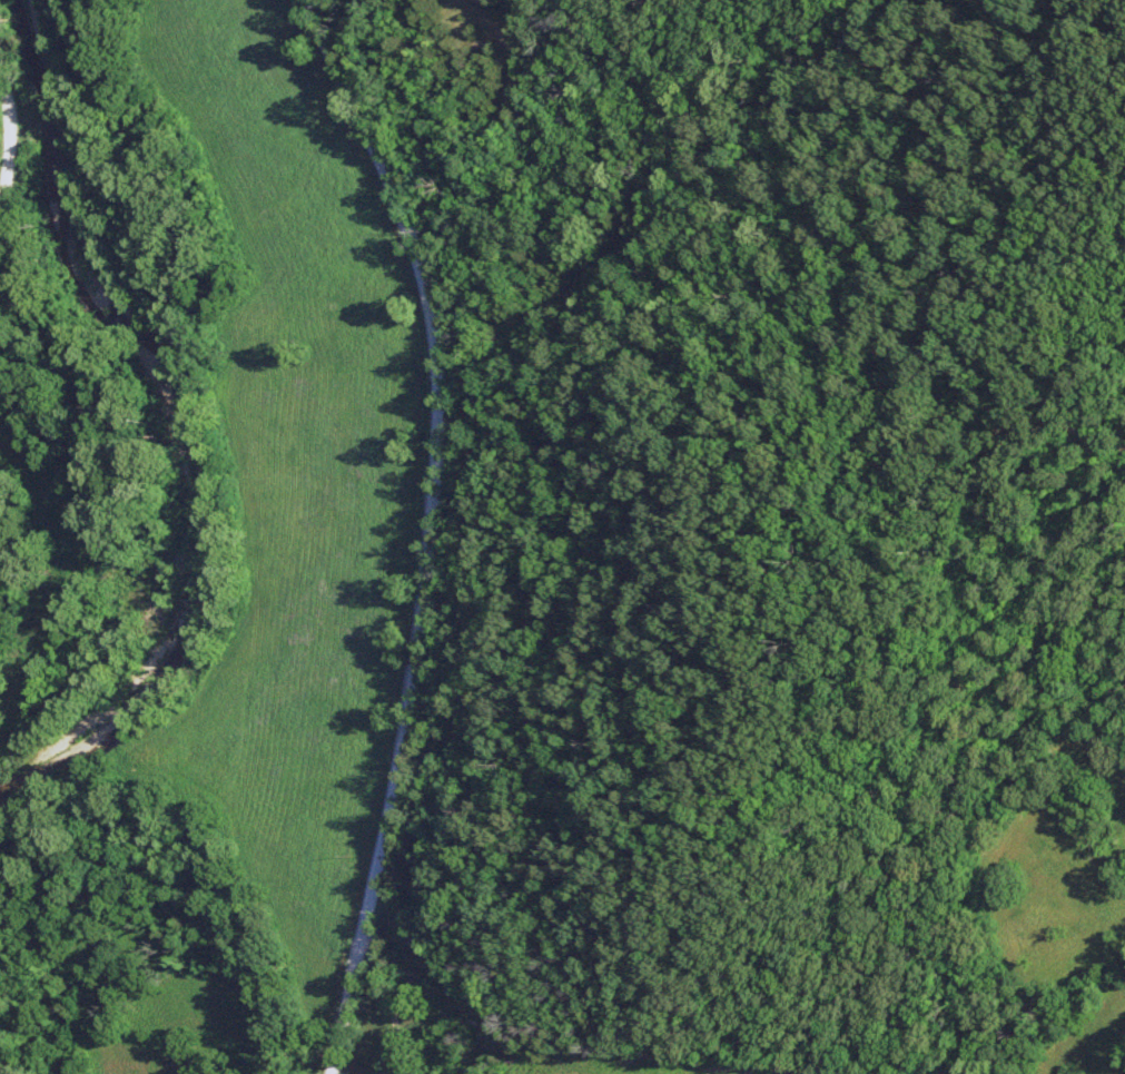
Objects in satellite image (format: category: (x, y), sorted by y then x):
road: (9, 158)
road: (432, 528)
river: (121, 703)

